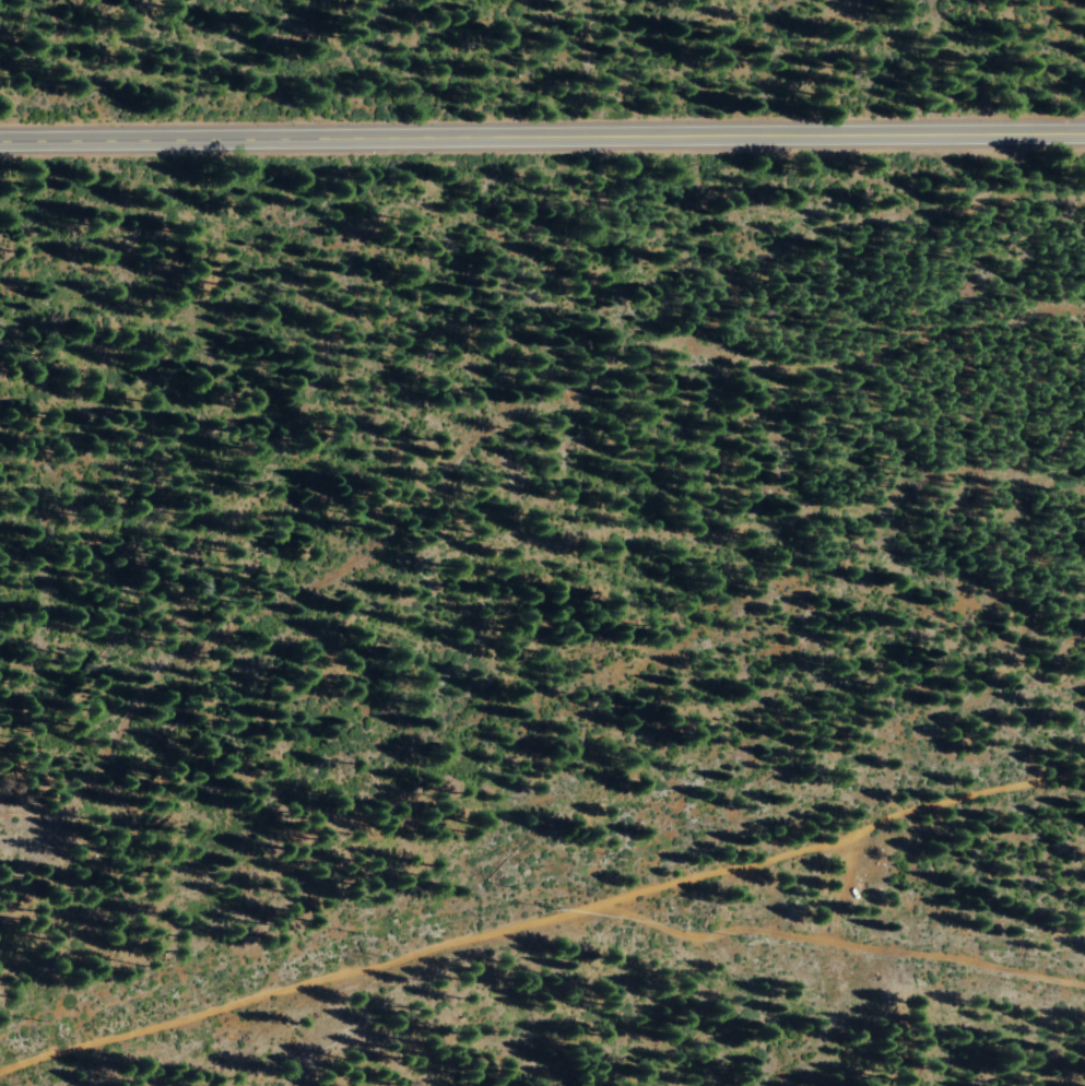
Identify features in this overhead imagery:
road: (542, 130)

